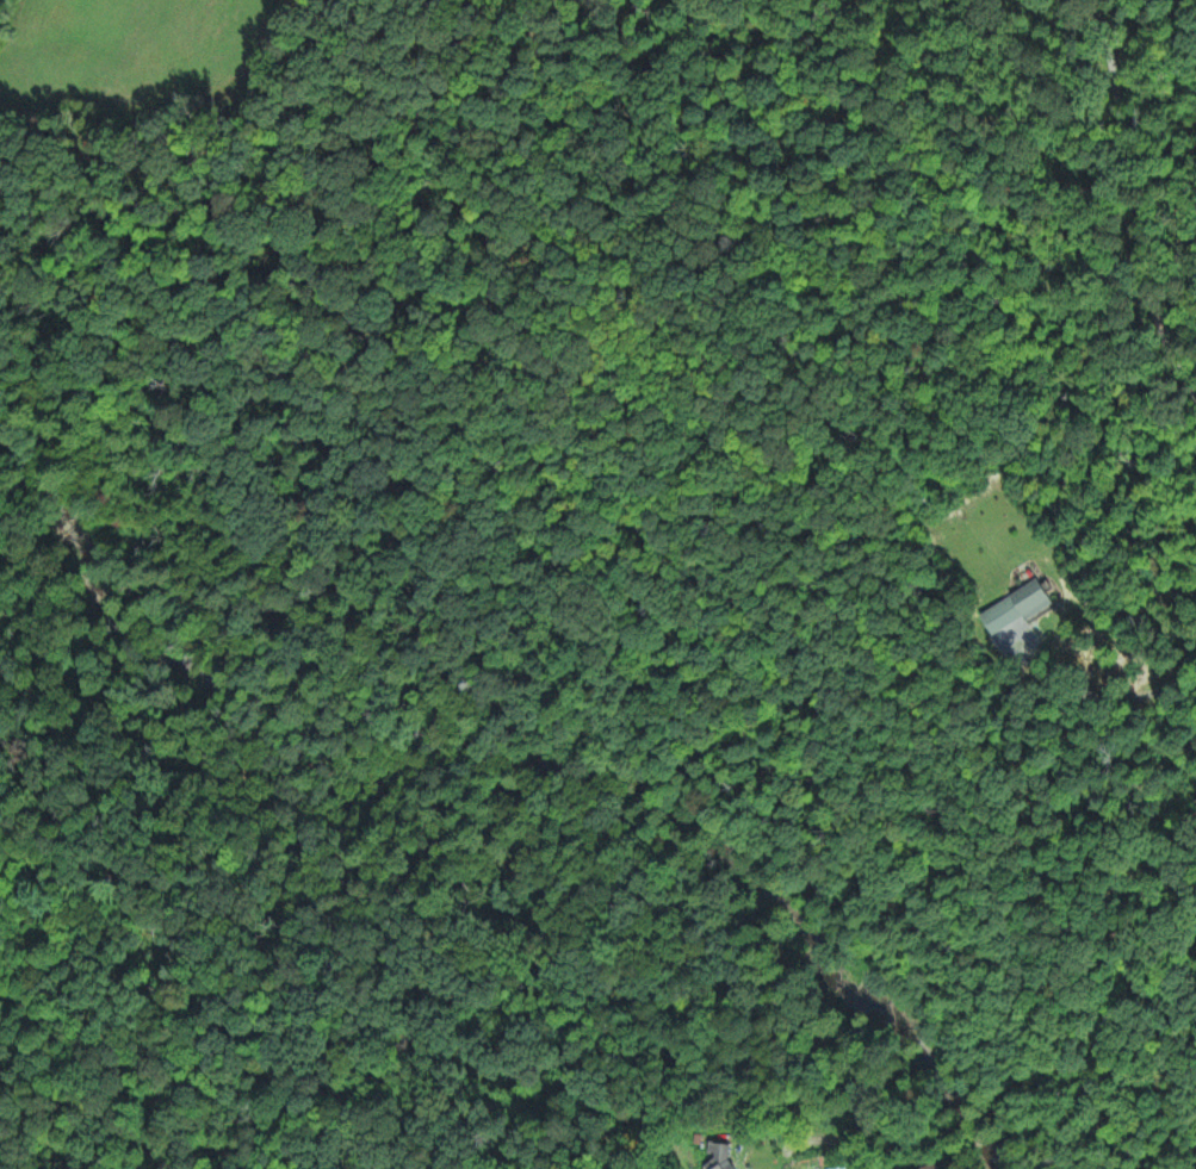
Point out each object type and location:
road: (1089, 189)
building: (1031, 599)
building: (720, 1157)
road: (1195, 1168)

